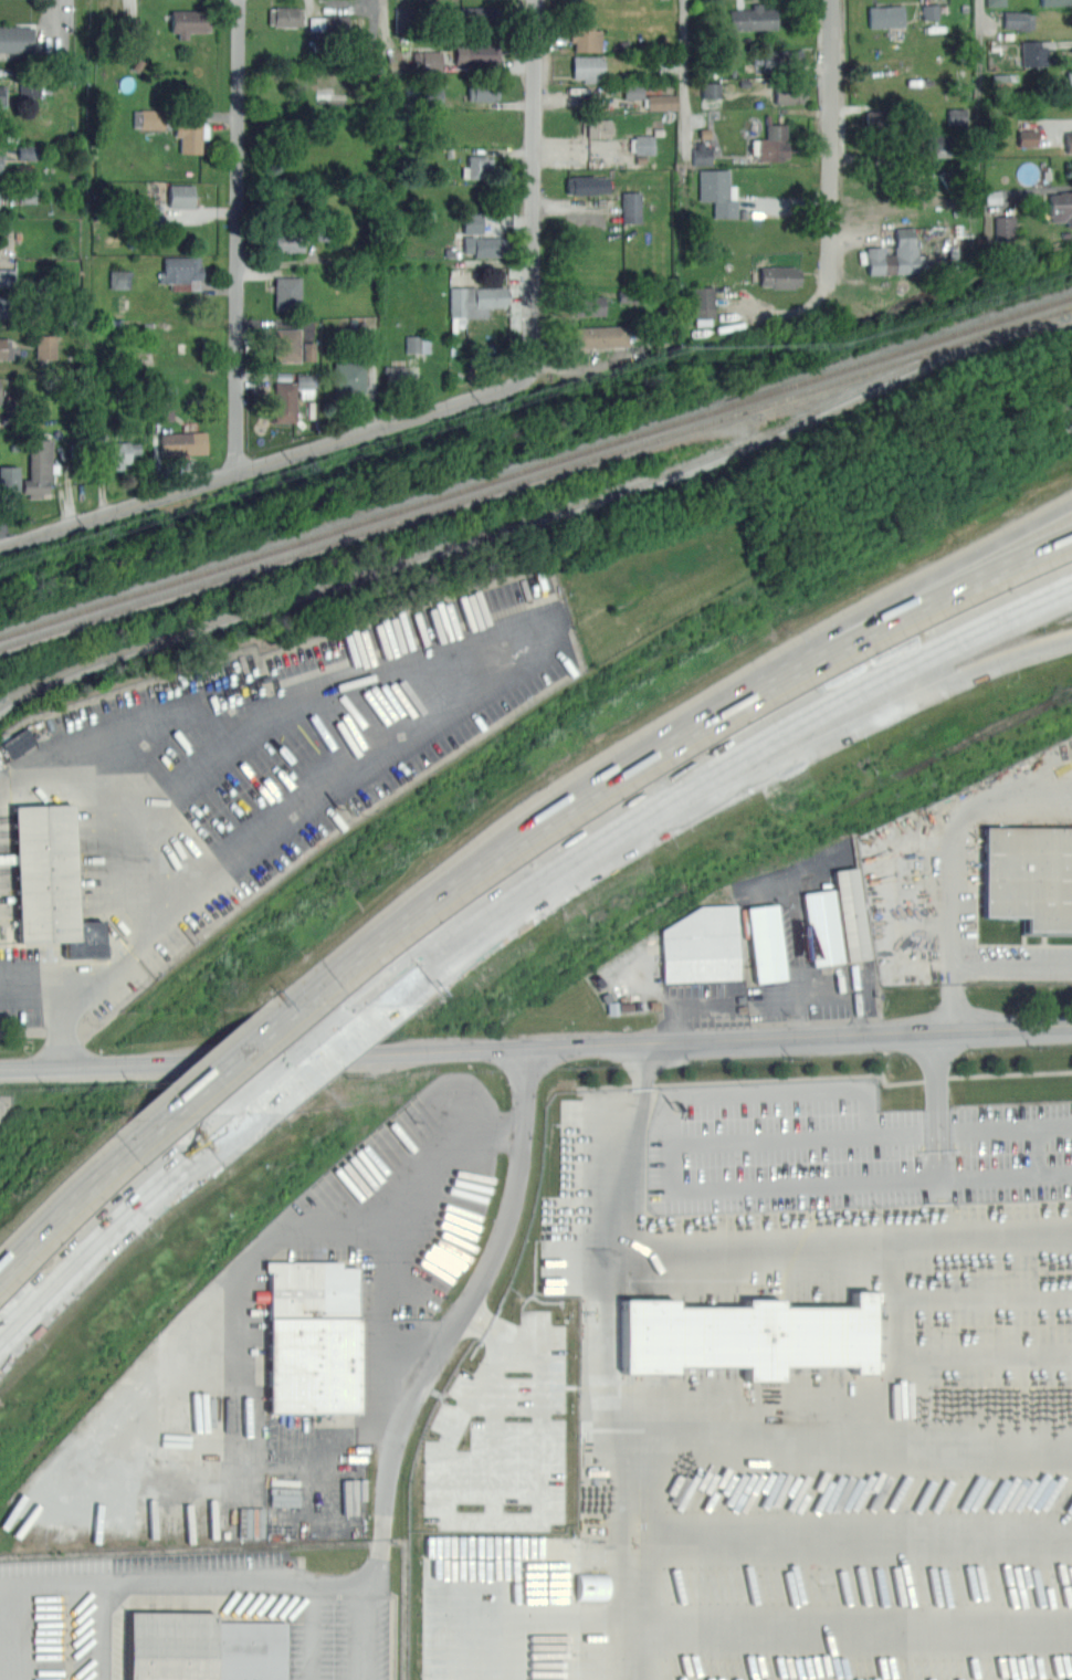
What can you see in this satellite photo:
building: (1053, 1)
building: (996, 2)
building: (931, 11)
building: (285, 15)
building: (479, 15)
building: (753, 17)
building: (886, 17)
building: (403, 19)
building: (1019, 19)
building: (189, 20)
building: (328, 23)
building: (15, 38)
building: (586, 39)
building: (1034, 51)
building: (476, 52)
building: (435, 60)
building: (781, 60)
building: (588, 67)
road: (684, 72)
building: (1068, 80)
building: (483, 90)
building: (712, 90)
building: (789, 91)
building: (28, 92)
building: (1, 94)
building: (435, 97)
building: (660, 101)
building: (957, 116)
building: (148, 118)
building: (882, 118)
building: (597, 127)
building: (189, 135)
building: (1028, 138)
road: (831, 140)
building: (1069, 141)
building: (936, 143)
building: (770, 144)
building: (644, 145)
building: (27, 153)
building: (702, 153)
building: (1, 156)
building: (0, 162)
building: (476, 166)
building: (1028, 172)
road: (533, 182)
building: (586, 185)
building: (719, 191)
building: (28, 192)
building: (180, 195)
building: (631, 207)
building: (1061, 207)
building: (473, 223)
building: (1006, 227)
road: (238, 235)
building: (287, 241)
building: (484, 244)
building: (894, 254)
building: (181, 271)
building: (7, 276)
building: (778, 276)
building: (286, 292)
building: (476, 298)
building: (704, 302)
building: (586, 304)
building: (4, 305)
road: (789, 309)
building: (601, 336)
building: (286, 344)
building: (418, 344)
building: (45, 346)
building: (4, 348)
building: (308, 350)
road: (578, 369)
building: (351, 375)
building: (396, 376)
building: (0, 381)
building: (284, 400)
building: (165, 410)
building: (181, 443)
building: (118, 452)
road: (269, 461)
railway: (536, 464)
building: (38, 470)
railway: (535, 475)
building: (8, 481)
railway: (495, 528)
road: (898, 596)
road: (532, 654)
road: (797, 722)
building: (19, 742)
road: (668, 745)
road: (800, 752)
parking lot: (240, 781)
road: (147, 807)
road: (954, 860)
road: (148, 867)
building: (1029, 874)
parking lot: (978, 879)
building: (49, 881)
building: (850, 913)
building: (822, 927)
road: (795, 935)
building: (765, 942)
road: (453, 943)
parking lot: (808, 944)
building: (701, 945)
road: (1012, 965)
road: (45, 980)
road: (828, 987)
road: (536, 1046)
road: (307, 1059)
road: (230, 1062)
road: (935, 1081)
road: (864, 1111)
road: (968, 1131)
road: (639, 1142)
parking lot: (843, 1152)
road: (824, 1183)
road: (81, 1194)
road: (116, 1224)
road: (851, 1238)
road: (471, 1298)
building: (312, 1335)
building: (746, 1335)
road: (897, 1336)
parking lot: (290, 1355)
road: (381, 1384)
parking lot: (503, 1432)
road: (856, 1436)
road: (641, 1438)
parking lot: (788, 1445)
road: (444, 1448)
road: (517, 1519)
road: (856, 1531)
road: (376, 1562)
road: (139, 1584)
parking lot: (196, 1616)
road: (370, 1631)
road: (104, 1632)
road: (858, 1632)
building: (204, 1647)
building: (525, 1660)

